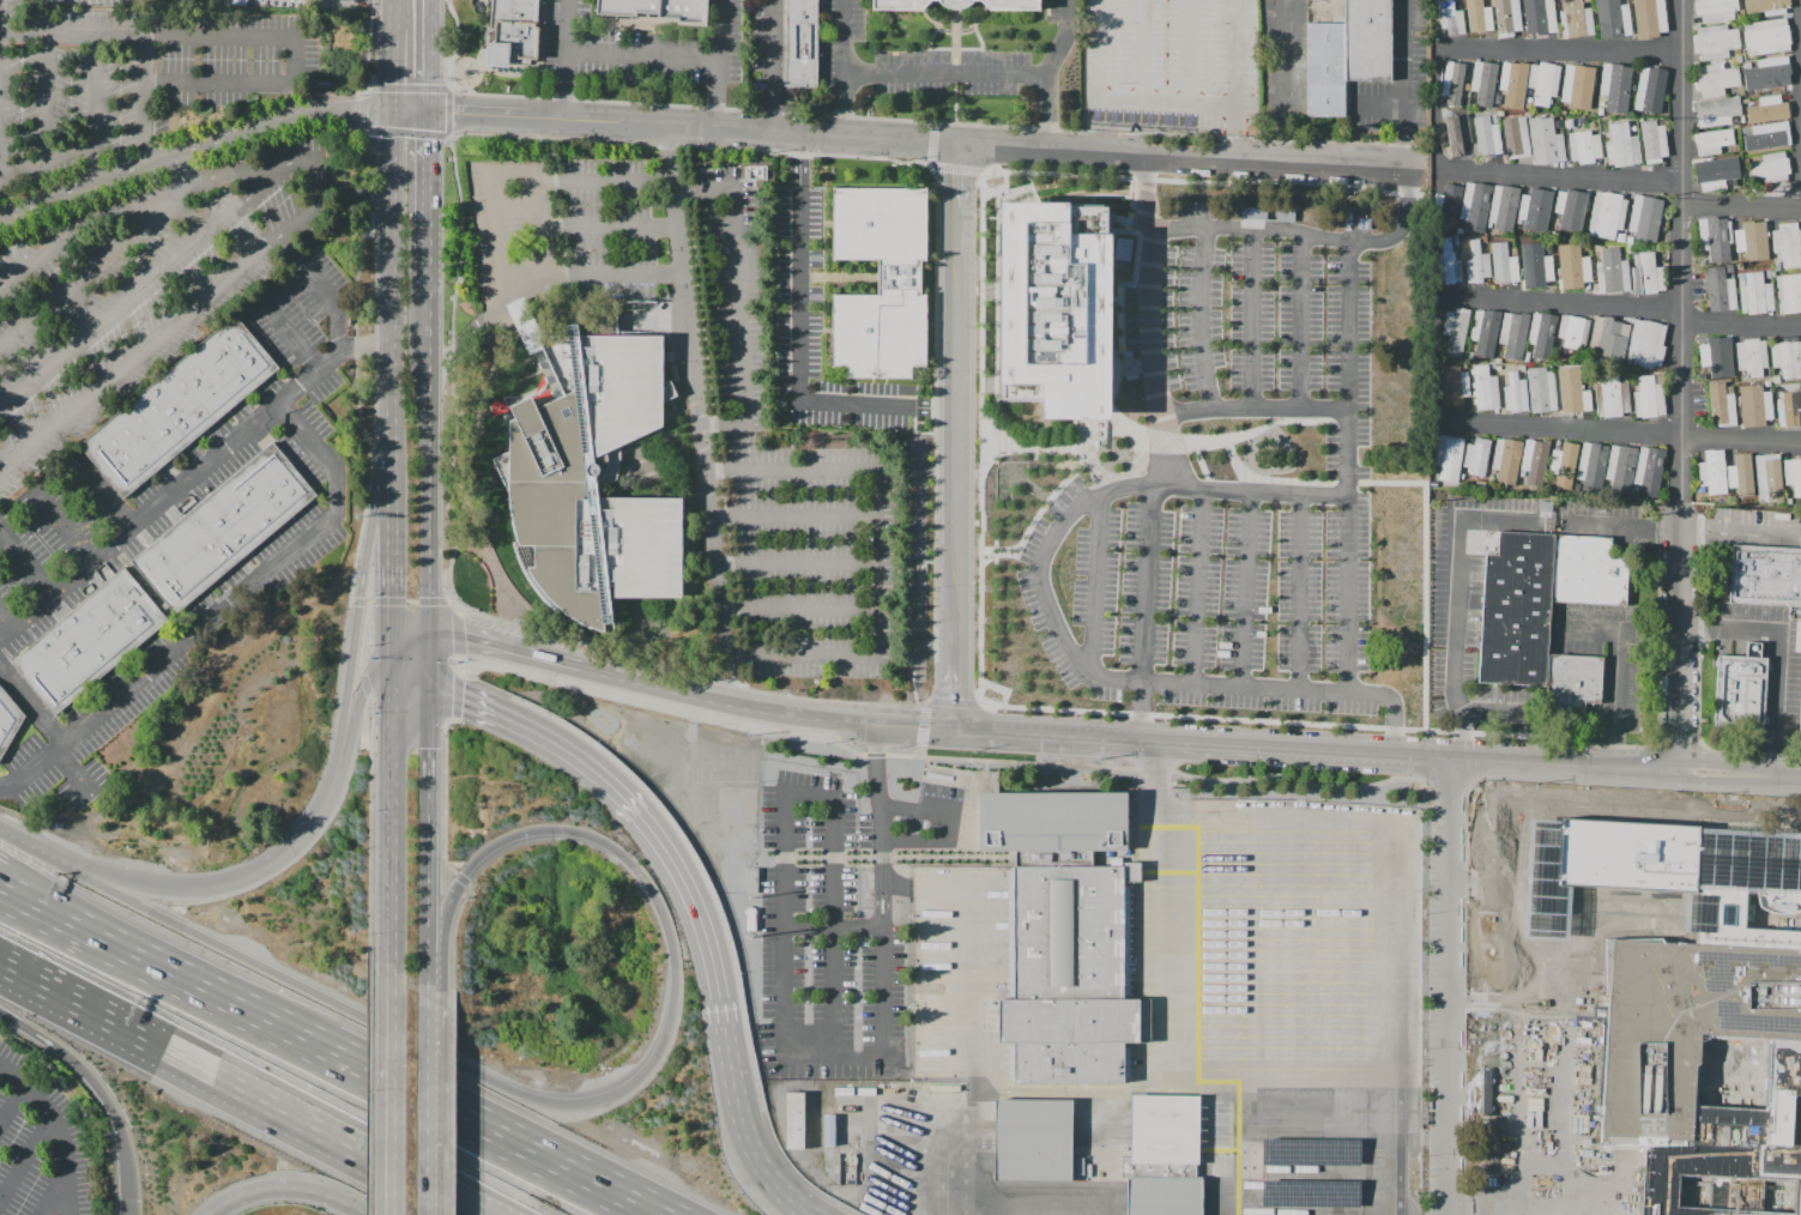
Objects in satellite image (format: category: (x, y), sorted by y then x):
building: (1587, 0)
building: (957, 5)
building: (1766, 6)
building: (659, 10)
building: (1715, 10)
road: (393, 13)
building: (1479, 17)
building: (1507, 17)
building: (1539, 17)
building: (1450, 18)
building: (1649, 18)
building: (1575, 19)
building: (1612, 19)
road: (973, 25)
building: (513, 32)
road: (146, 37)
road: (845, 37)
building: (1766, 37)
road: (1063, 40)
building: (1715, 42)
building: (805, 44)
road: (949, 50)
road: (965, 52)
road: (1560, 54)
building: (1348, 55)
road: (430, 56)
road: (641, 56)
building: (1737, 59)
road: (566, 61)
road: (294, 62)
road: (715, 65)
building: (1746, 66)
road: (770, 67)
road: (389, 68)
road: (956, 69)
building: (1767, 73)
road: (944, 74)
road: (1105, 75)
road: (1233, 80)
road: (1283, 80)
building: (1456, 80)
building: (1715, 80)
building: (1511, 83)
building: (1543, 83)
road: (219, 84)
road: (1402, 84)
building: (1483, 84)
building: (1578, 85)
road: (369, 86)
road: (409, 86)
road: (449, 86)
building: (1615, 86)
building: (1649, 87)
road: (362, 90)
building: (1775, 90)
building: (1499, 95)
road: (955, 98)
road: (46, 99)
building: (1528, 99)
building: (1763, 99)
road: (145, 101)
building: (1499, 101)
road: (1382, 104)
road: (95, 107)
road: (845, 107)
building: (1770, 108)
building: (1717, 110)
traffic signals: (389, 111)
road: (410, 111)
road: (447, 111)
road: (1436, 111)
building: (1601, 111)
road: (362, 113)
traffic signals: (430, 113)
road: (1045, 113)
building: (1507, 114)
building: (1493, 116)
building: (1742, 119)
road: (935, 121)
building: (1558, 123)
road: (636, 127)
building: (1632, 128)
building: (1746, 129)
road: (1, 131)
road: (404, 132)
building: (1457, 133)
building: (1486, 137)
building: (1515, 137)
building: (1767, 137)
road: (448, 138)
building: (1545, 140)
road: (901, 141)
building: (1654, 141)
building: (1712, 141)
road: (931, 143)
building: (1621, 145)
road: (690, 146)
road: (1002, 146)
building: (1584, 146)
road: (191, 149)
building: (1735, 149)
road: (1095, 152)
building: (1740, 155)
road: (800, 161)
road: (1285, 163)
road: (48, 165)
road: (954, 168)
building: (1771, 168)
road: (186, 169)
road: (507, 171)
road: (983, 173)
building: (1712, 174)
road: (1560, 179)
road: (603, 182)
building: (1733, 182)
road: (997, 187)
road: (1013, 187)
road: (1068, 197)
parking lot: (141, 198)
building: (1446, 200)
road: (430, 201)
road: (959, 201)
road: (1129, 204)
building: (1475, 205)
building: (1503, 207)
building: (1571, 208)
building: (1535, 210)
road: (1741, 210)
road: (310, 211)
building: (1607, 214)
building: (1645, 217)
parking lot: (567, 222)
road: (609, 228)
building: (1459, 230)
road: (1310, 234)
building: (1483, 238)
building: (1716, 238)
building: (1628, 240)
building: (1749, 241)
building: (1456, 243)
building: (1788, 243)
building: (1630, 249)
road: (1682, 258)
building: (1739, 259)
building: (1449, 261)
building: (1477, 264)
road: (96, 265)
building: (1776, 265)
building: (1729, 267)
building: (1740, 267)
building: (1504, 270)
building: (1573, 270)
building: (1537, 271)
building: (1612, 272)
building: (1767, 274)
building: (1646, 276)
building: (881, 282)
road: (144, 286)
road: (534, 288)
building: (1720, 290)
building: (1789, 292)
building: (1755, 295)
road: (737, 301)
road: (337, 307)
building: (1053, 307)
road: (1621, 310)
road: (1117, 314)
road: (995, 315)
road: (1126, 318)
road: (1201, 318)
road: (1252, 318)
road: (1148, 319)
road: (1149, 319)
road: (1165, 319)
road: (653, 320)
road: (1303, 320)
building: (1456, 331)
building: (1486, 332)
building: (1572, 333)
building: (1515, 334)
building: (1541, 337)
road: (1165, 338)
road: (294, 339)
road: (1147, 339)
road: (1126, 340)
building: (1608, 340)
building: (1645, 344)
road: (799, 351)
building: (1469, 356)
building: (1714, 356)
building: (1751, 356)
road: (353, 357)
building: (1464, 357)
building: (1787, 358)
building: (1498, 361)
road: (1433, 362)
road: (466, 364)
building: (1492, 365)
building: (1498, 367)
road: (449, 368)
building: (1739, 373)
road: (388, 374)
building: (1776, 380)
building: (1766, 383)
building: (1455, 385)
building: (1486, 388)
building: (1541, 389)
building: (1515, 393)
building: (1612, 394)
building: (1575, 395)
building: (1648, 398)
building: (1722, 404)
building: (1754, 405)
building: (177, 407)
road: (1253, 407)
road: (935, 410)
building: (1789, 410)
road: (697, 418)
road: (1305, 421)
road: (1341, 421)
road: (1104, 422)
road: (935, 431)
road: (1619, 434)
road: (1231, 437)
road: (957, 439)
road: (1165, 441)
road: (1034, 442)
building: (1449, 457)
building: (1476, 457)
road: (1232, 458)
building: (1505, 460)
road: (1199, 461)
building: (1534, 461)
building: (1563, 461)
road: (429, 463)
road: (1078, 465)
building: (1593, 465)
road: (1348, 466)
building: (1620, 467)
building: (1649, 470)
building: (587, 471)
building: (1737, 471)
building: (1712, 472)
building: (1793, 474)
building: (1769, 477)
building: (1491, 478)
road: (1288, 479)
road: (188, 482)
road: (1346, 482)
road: (1205, 484)
road: (1076, 490)
parking lot: (797, 495)
road: (107, 501)
road: (1058, 508)
road: (792, 516)
road: (322, 522)
building: (226, 526)
road: (64, 527)
road: (1618, 527)
parking lot: (84, 531)
road: (1739, 533)
road: (998, 550)
road: (875, 552)
road: (980, 552)
road: (908, 557)
road: (25, 562)
road: (794, 562)
road: (491, 569)
road: (1424, 573)
building: (1765, 576)
road: (1146, 581)
road: (1094, 584)
road: (1196, 587)
road: (1244, 588)
road: (359, 592)
road: (1299, 592)
traffic signals: (391, 597)
road: (1457, 597)
road: (448, 598)
road: (357, 600)
road: (368, 600)
road: (387, 600)
road: (410, 600)
road: (430, 600)
road: (797, 609)
road: (459, 610)
building: (1546, 615)
road: (6, 622)
road: (1657, 625)
road: (1594, 629)
road: (1056, 631)
road: (1767, 631)
road: (362, 633)
road: (410, 634)
road: (457, 634)
traffic signals: (465, 640)
building: (90, 642)
road: (1680, 643)
road: (911, 659)
road: (393, 663)
road: (428, 663)
road: (455, 664)
road: (684, 672)
road: (955, 676)
road: (364, 681)
road: (137, 684)
road: (651, 687)
road: (912, 689)
road: (999, 689)
road: (1698, 689)
road: (411, 690)
building: (1741, 693)
road: (454, 696)
road: (1614, 697)
traffic signals: (463, 700)
road: (953, 701)
road: (357, 702)
road: (983, 702)
road: (660, 705)
road: (1138, 709)
road: (1495, 712)
building: (1800, 713)
building: (7, 720)
road: (923, 724)
road: (915, 727)
road: (838, 730)
road: (534, 733)
road: (54, 735)
road: (1046, 736)
road: (1465, 736)
road: (835, 739)
road: (1676, 743)
traffic signals: (427, 746)
road: (918, 752)
road: (874, 754)
road: (1702, 756)
road: (1408, 757)
road: (1008, 762)
road: (1470, 762)
road: (1705, 762)
road: (78, 766)
road: (942, 767)
road: (1153, 768)
road: (975, 772)
road: (1702, 772)
flagpole: (991, 774)
road: (1766, 774)
road: (1705, 778)
road: (1301, 780)
road: (1702, 782)
road: (1449, 787)
road: (1476, 788)
road: (1540, 790)
road: (442, 793)
road: (1700, 798)
road: (878, 803)
road: (944, 820)
road: (427, 821)
road: (574, 832)
road: (369, 833)
road: (394, 835)
road: (291, 848)
road: (37, 851)
road: (447, 868)
building: (1673, 871)
road: (461, 878)
road: (14, 879)
road: (895, 884)
road: (1483, 884)
road: (14, 885)
road: (143, 890)
road: (689, 893)
road: (1395, 900)
road: (1168, 902)
road: (782, 903)
road: (833, 929)
building: (1065, 932)
road: (449, 944)
road: (972, 962)
road: (428, 974)
road: (288, 980)
road: (1448, 987)
road: (393, 989)
road: (1481, 1001)
road: (1483, 1001)
road: (279, 1020)
building: (1684, 1023)
road: (670, 1026)
road: (122, 1027)
road: (428, 1027)
road: (1569, 1048)
road: (1519, 1050)
road: (729, 1053)
parking lot: (1567, 1057)
road: (1593, 1065)
road: (1168, 1076)
road: (1071, 1088)
road: (368, 1092)
road: (101, 1093)
road: (519, 1094)
road: (608, 1098)
road: (427, 1101)
road: (1480, 1101)
road: (13, 1102)
road: (393, 1106)
road: (951, 1106)
road: (449, 1112)
road: (297, 1118)
building: (793, 1120)
road: (60, 1128)
building: (1166, 1132)
road: (1421, 1135)
building: (1035, 1144)
road: (750, 1146)
building: (1735, 1148)
building: (1312, 1153)
road: (25, 1156)
road: (554, 1157)
road: (419, 1171)
road: (942, 1173)
road: (405, 1180)
road: (427, 1180)
road: (289, 1189)
road: (606, 1192)
road: (622, 1192)
road: (54, 1195)
building: (1311, 1196)
road: (788, 1198)
building: (1166, 1198)
road: (1476, 1201)
road: (509, 1205)
road: (1509, 1207)

